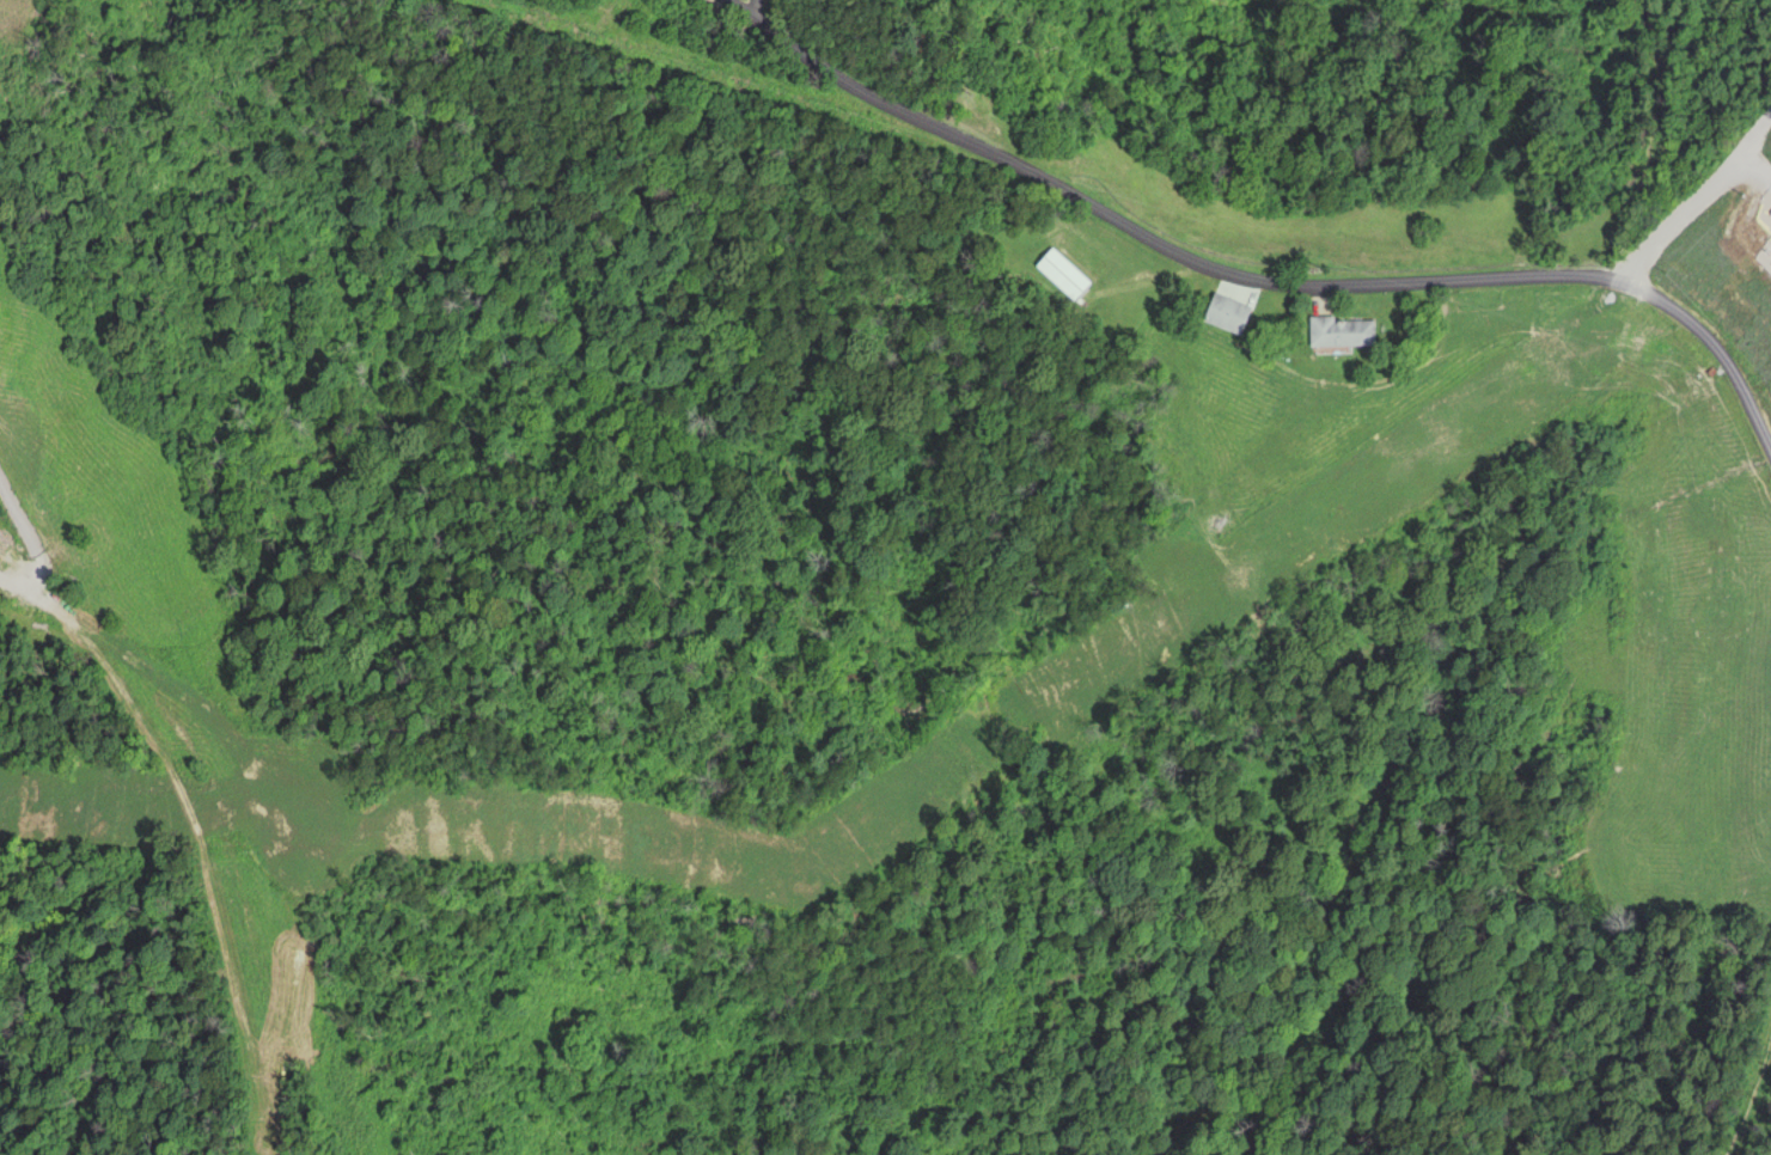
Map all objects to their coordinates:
road: (1693, 197)
road: (1149, 233)
building: (1063, 276)
building: (1222, 314)
building: (1338, 334)
road: (1716, 347)
road: (31, 551)
road: (204, 861)

